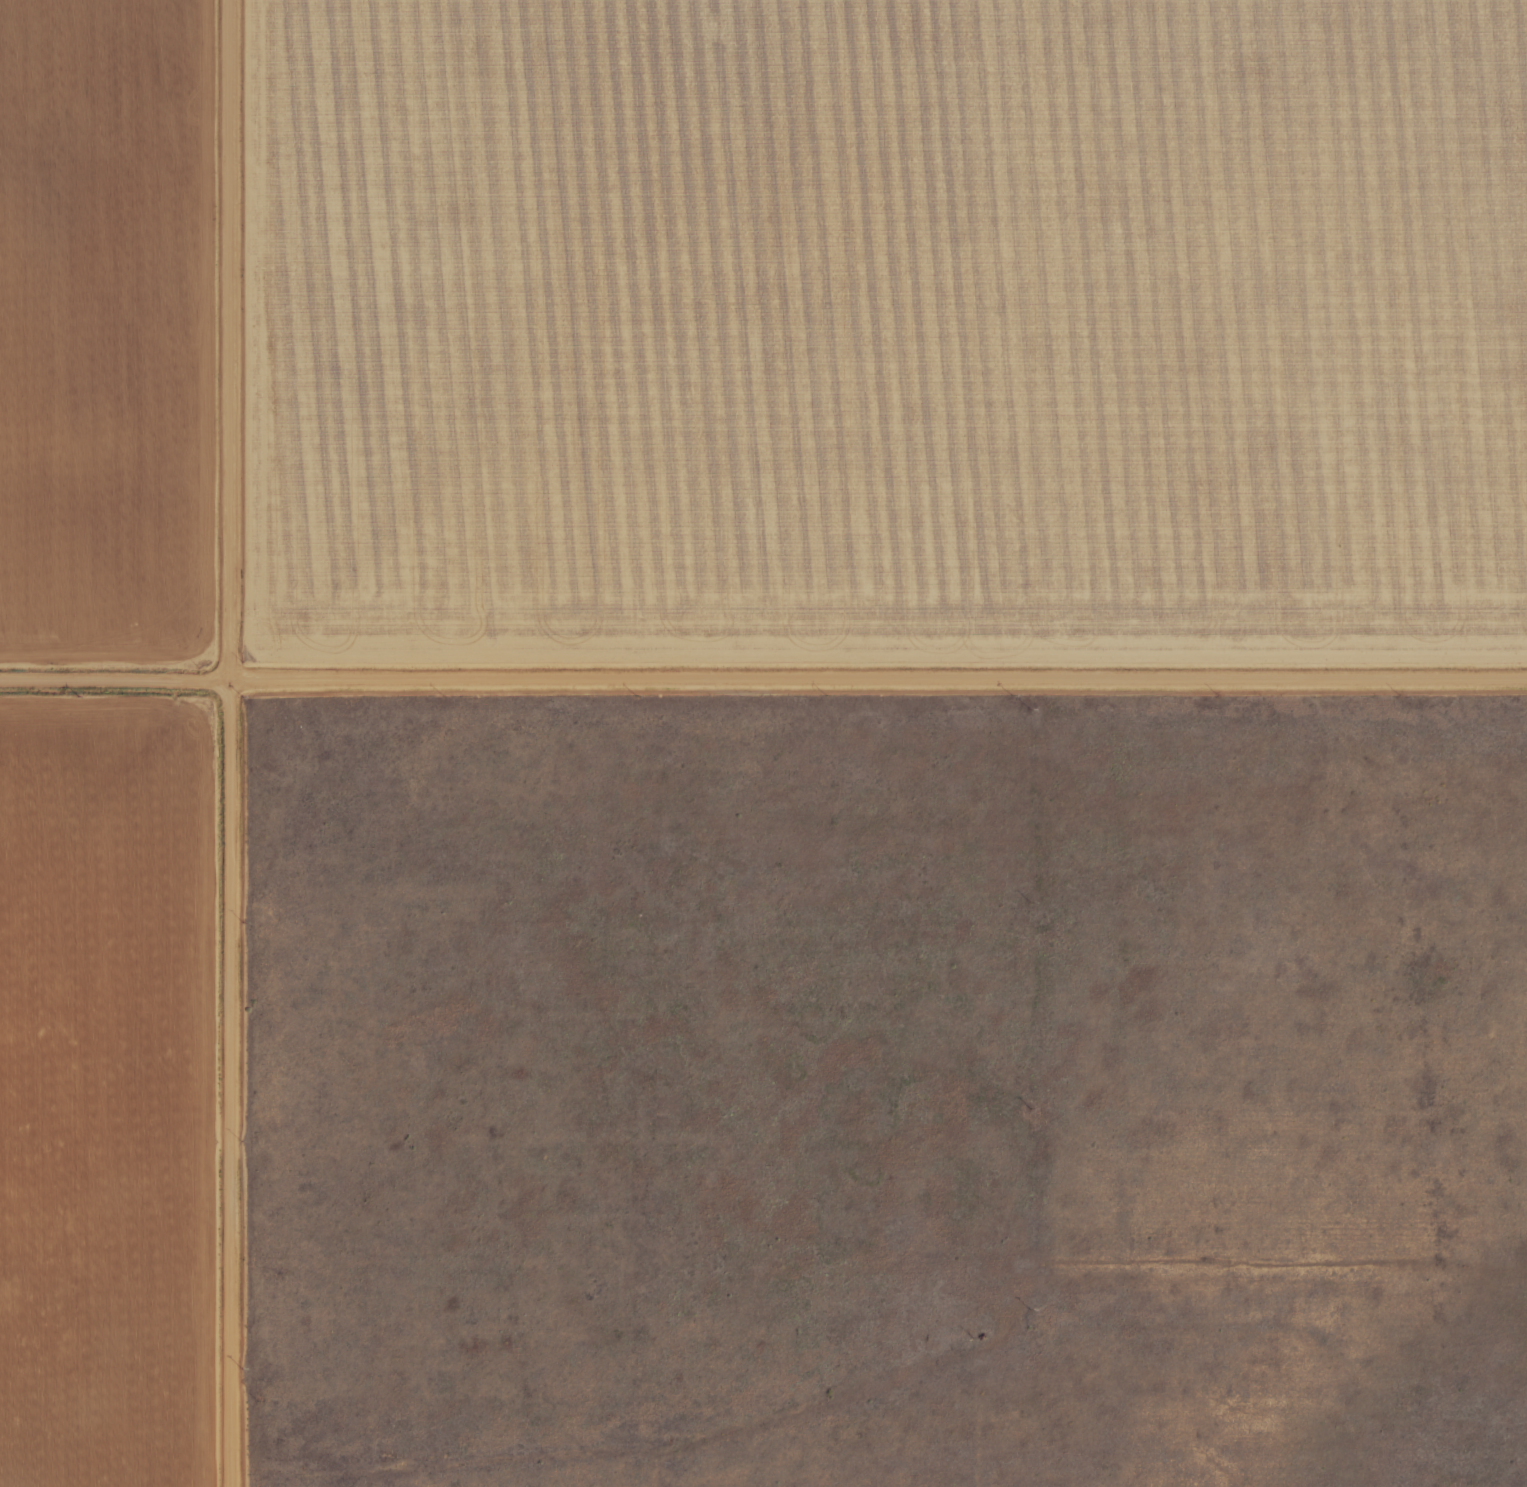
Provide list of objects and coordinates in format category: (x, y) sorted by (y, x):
road: (763, 685)
road: (228, 743)
road: (586, 1452)

